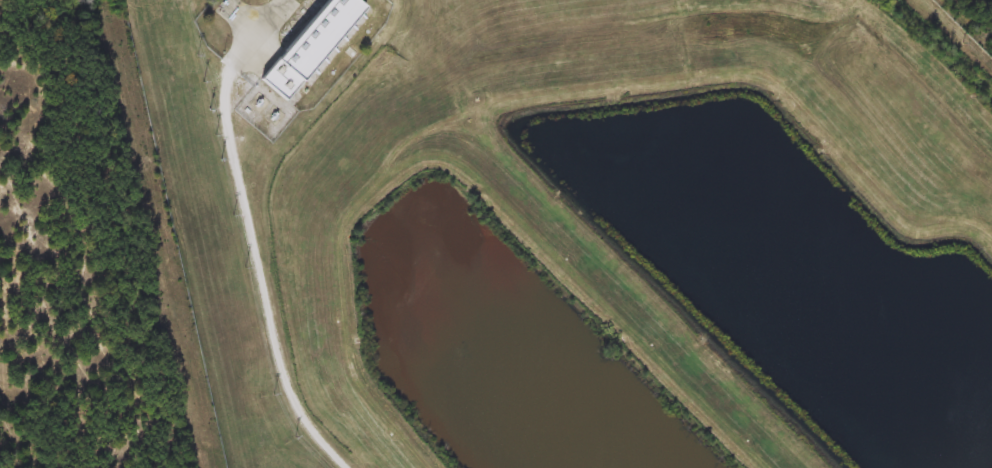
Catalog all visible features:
building: (310, 49)
road: (273, 313)

